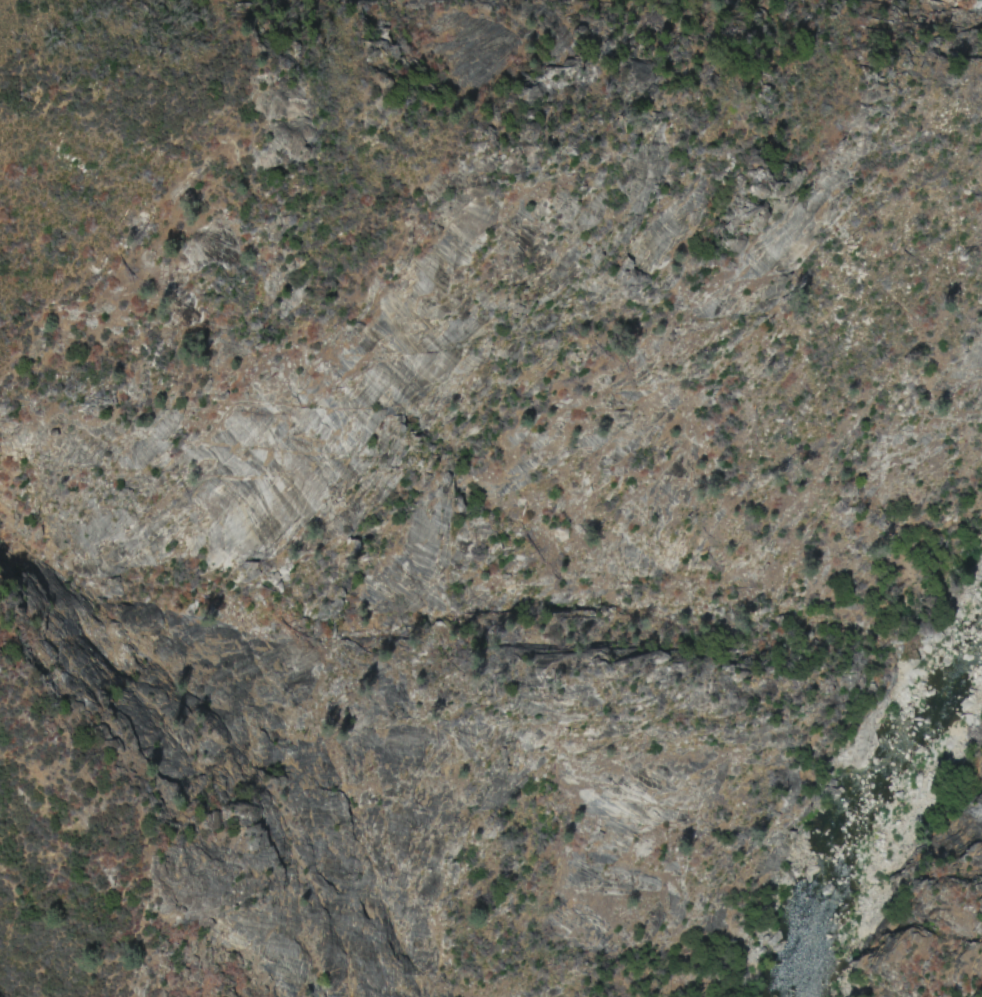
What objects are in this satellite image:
river: (860, 816)

